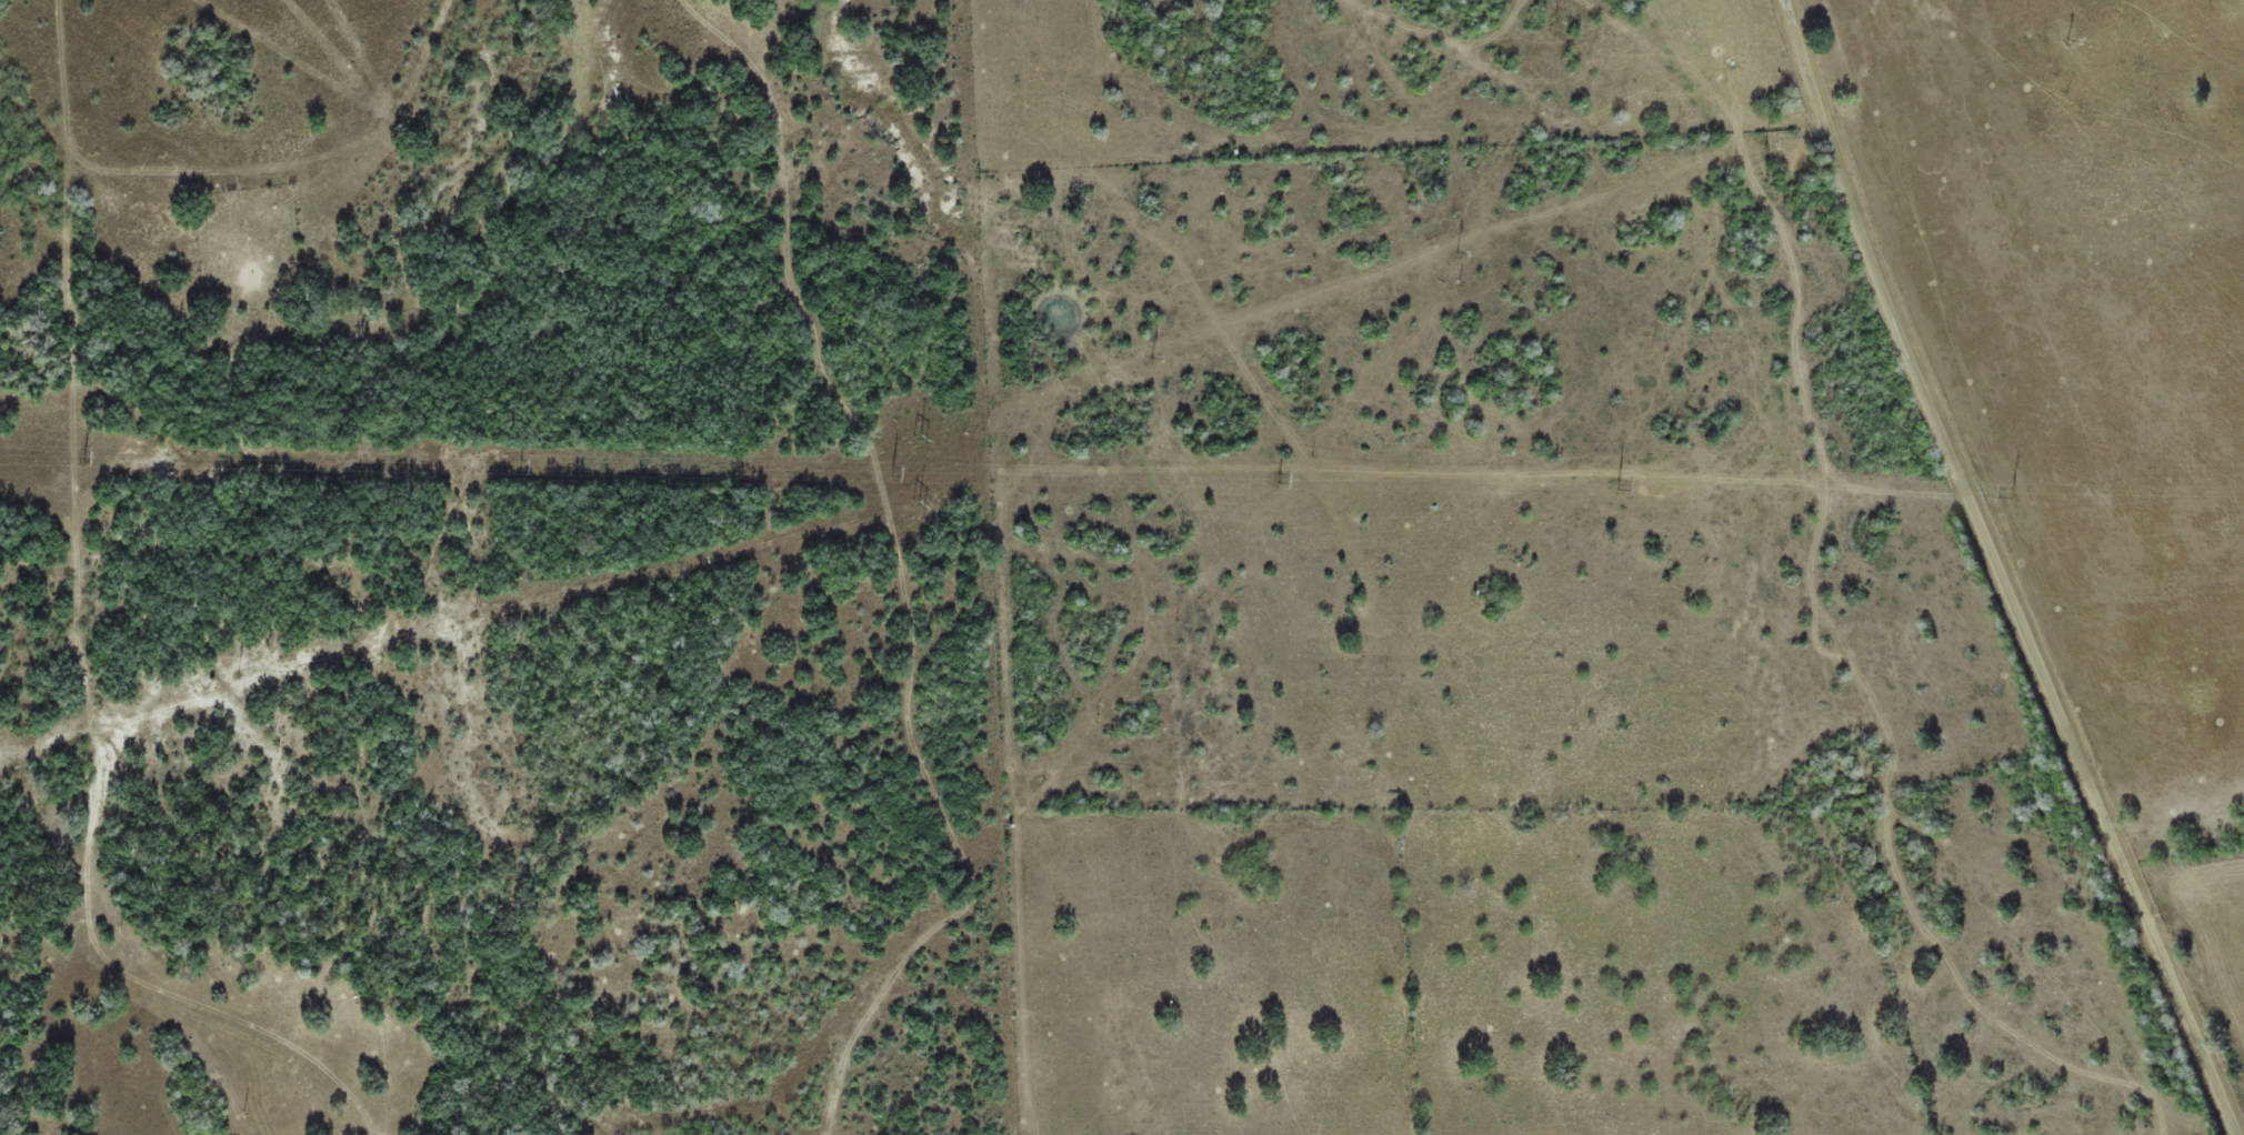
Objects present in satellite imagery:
power tower: (83, 458)
power tower: (519, 465)
power tower: (891, 471)
power tower: (1278, 479)
power tower: (1616, 486)
power tower: (2011, 493)
road: (2008, 569)

